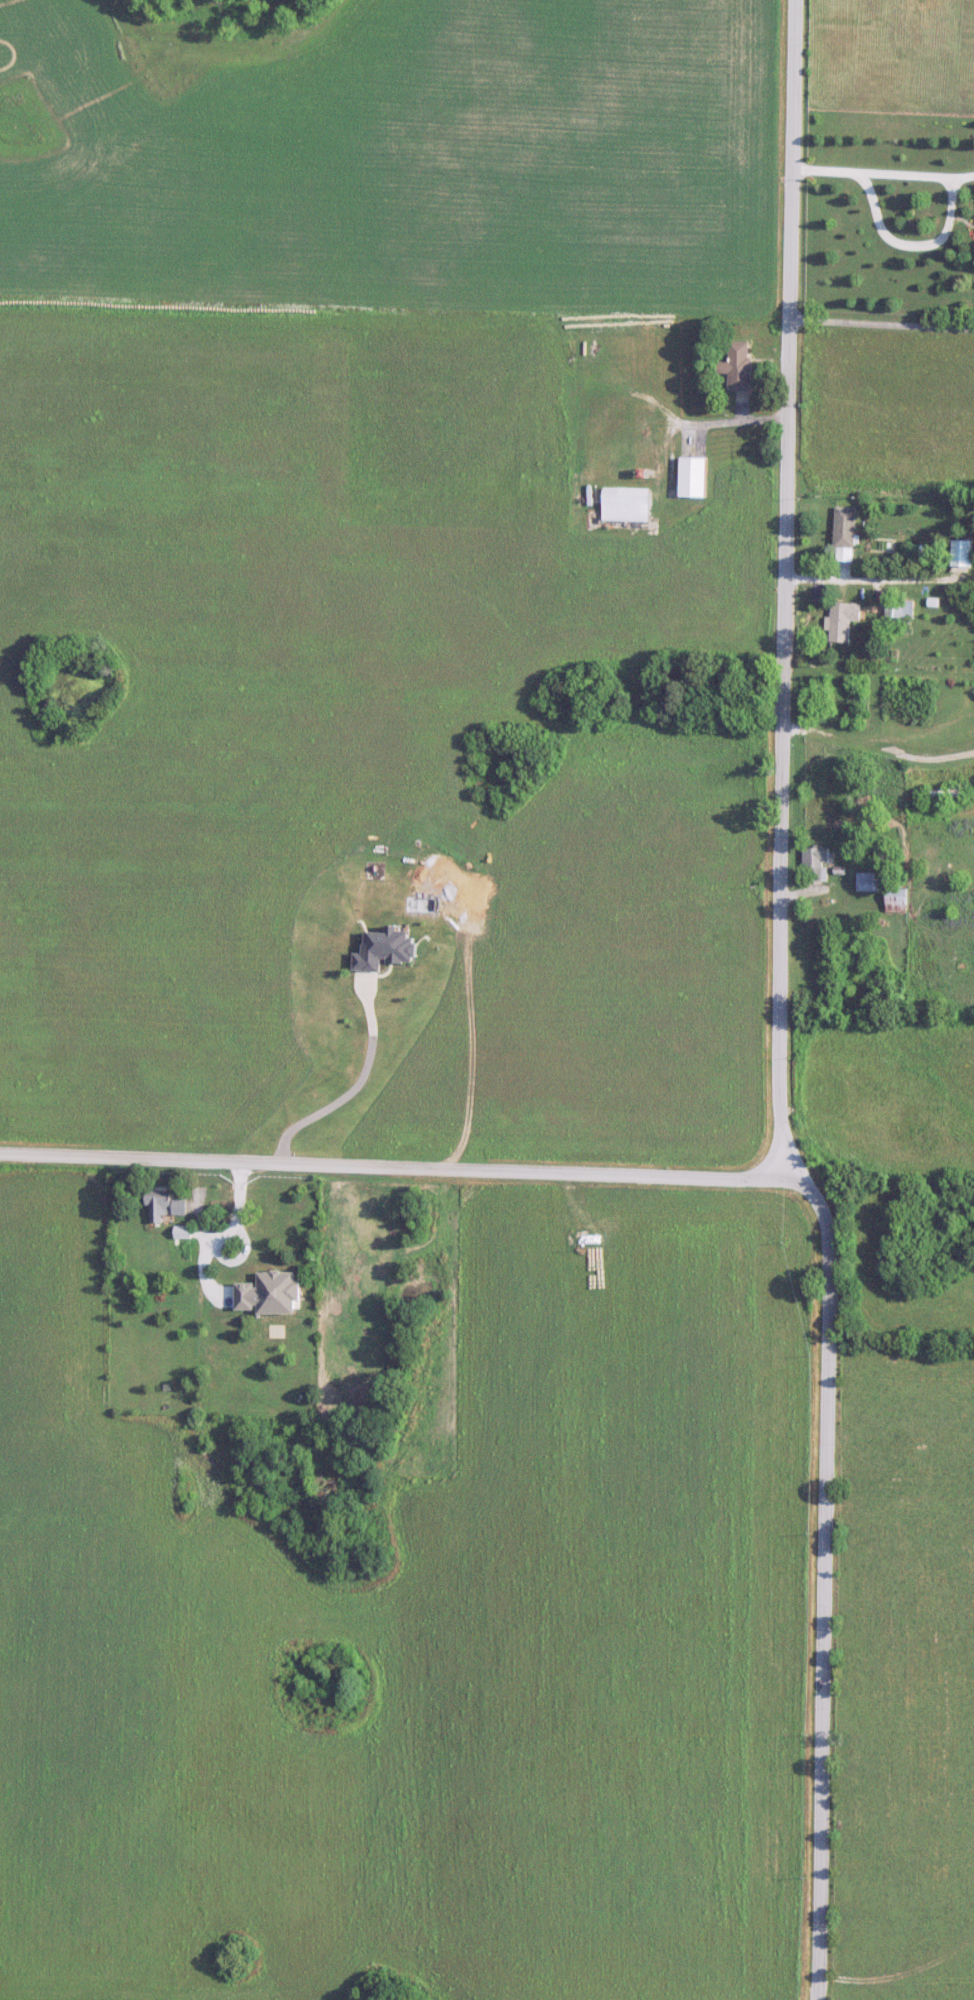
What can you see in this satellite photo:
road: (884, 177)
road: (882, 327)
building: (738, 367)
road: (728, 426)
building: (647, 431)
building: (694, 478)
building: (626, 505)
building: (845, 528)
building: (922, 548)
building: (962, 556)
road: (879, 584)
road: (785, 593)
building: (895, 610)
building: (843, 621)
road: (924, 734)
road: (878, 748)
building: (941, 794)
road: (971, 814)
building: (817, 863)
building: (881, 888)
road: (349, 1090)
road: (423, 1172)
building: (233, 1194)
building: (162, 1204)
building: (239, 1222)
building: (183, 1235)
road: (130, 1430)
road: (824, 1611)

